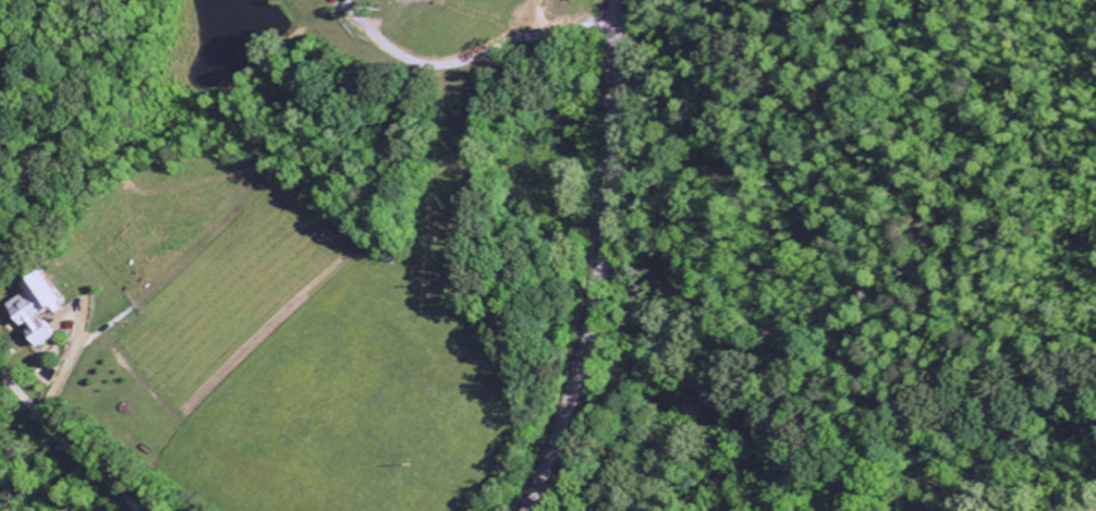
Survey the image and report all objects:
road: (426, 19)
road: (605, 260)
building: (40, 305)

